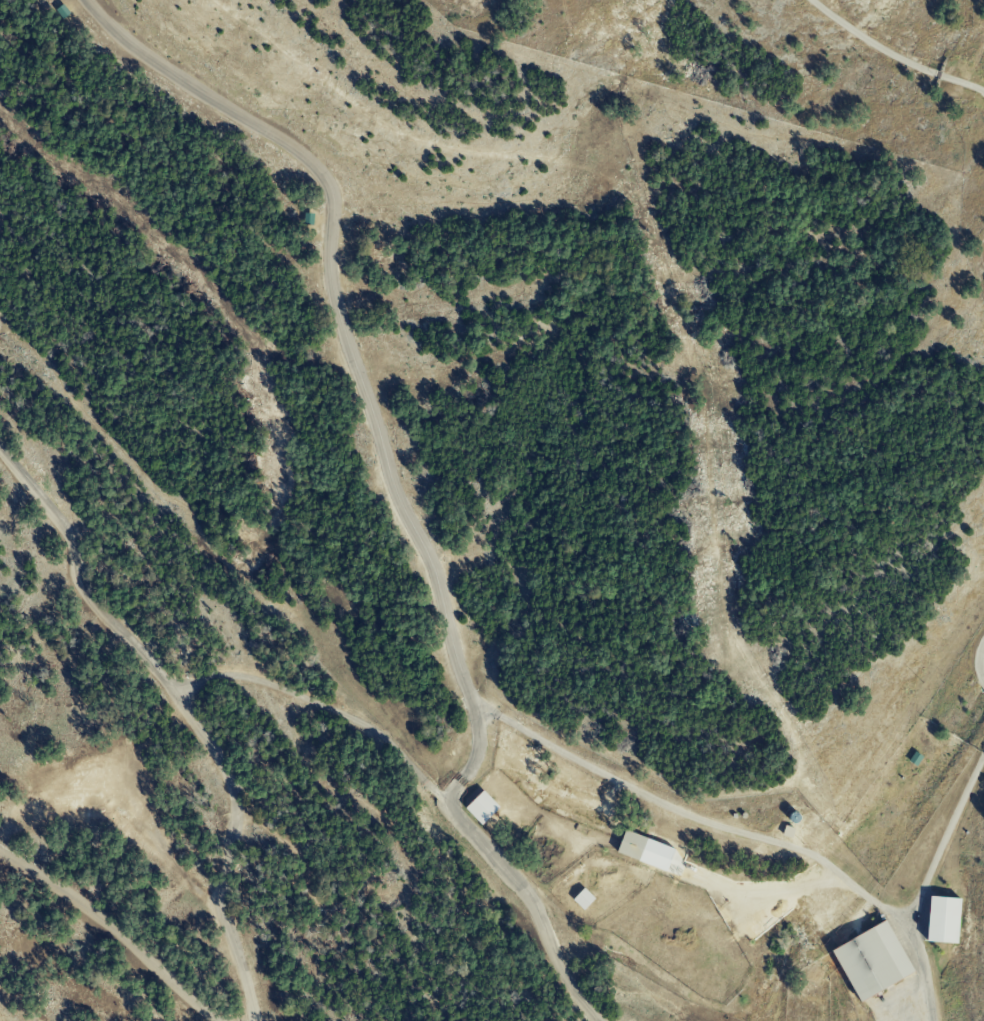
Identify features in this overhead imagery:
road: (895, 52)
road: (389, 477)
road: (982, 658)
road: (324, 707)
road: (184, 715)
building: (481, 806)
road: (737, 833)
road: (942, 835)
building: (630, 845)
building: (582, 898)
building: (942, 919)
road: (115, 928)
building: (871, 960)

